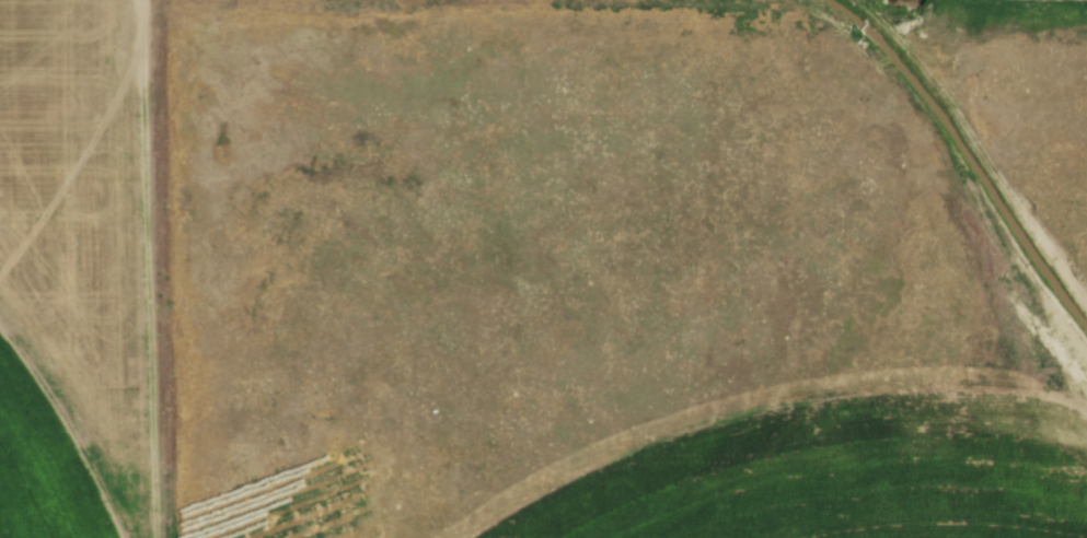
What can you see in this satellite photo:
crop: (62, 270)
crop: (814, 484)

